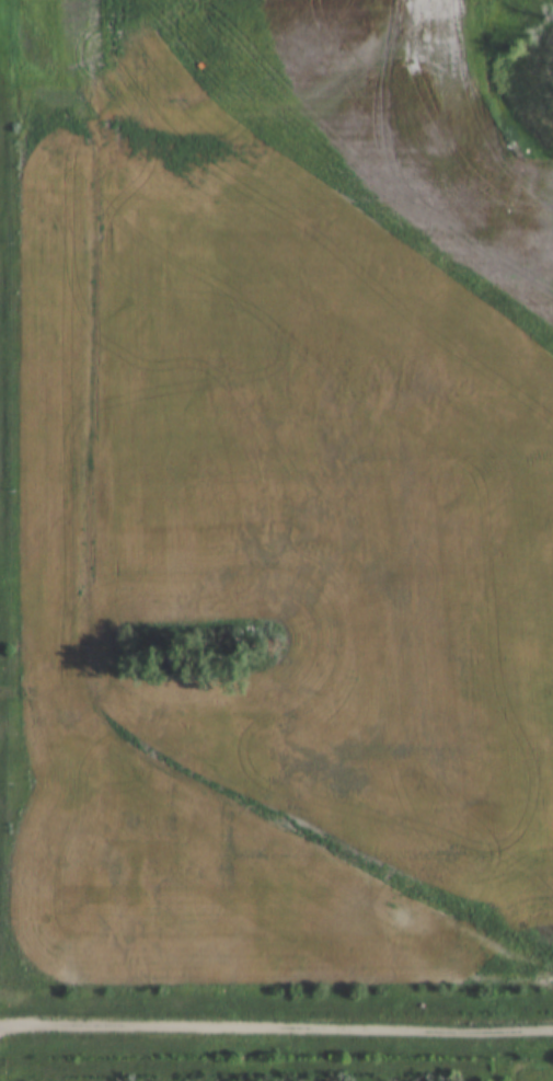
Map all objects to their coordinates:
road: (276, 1025)

